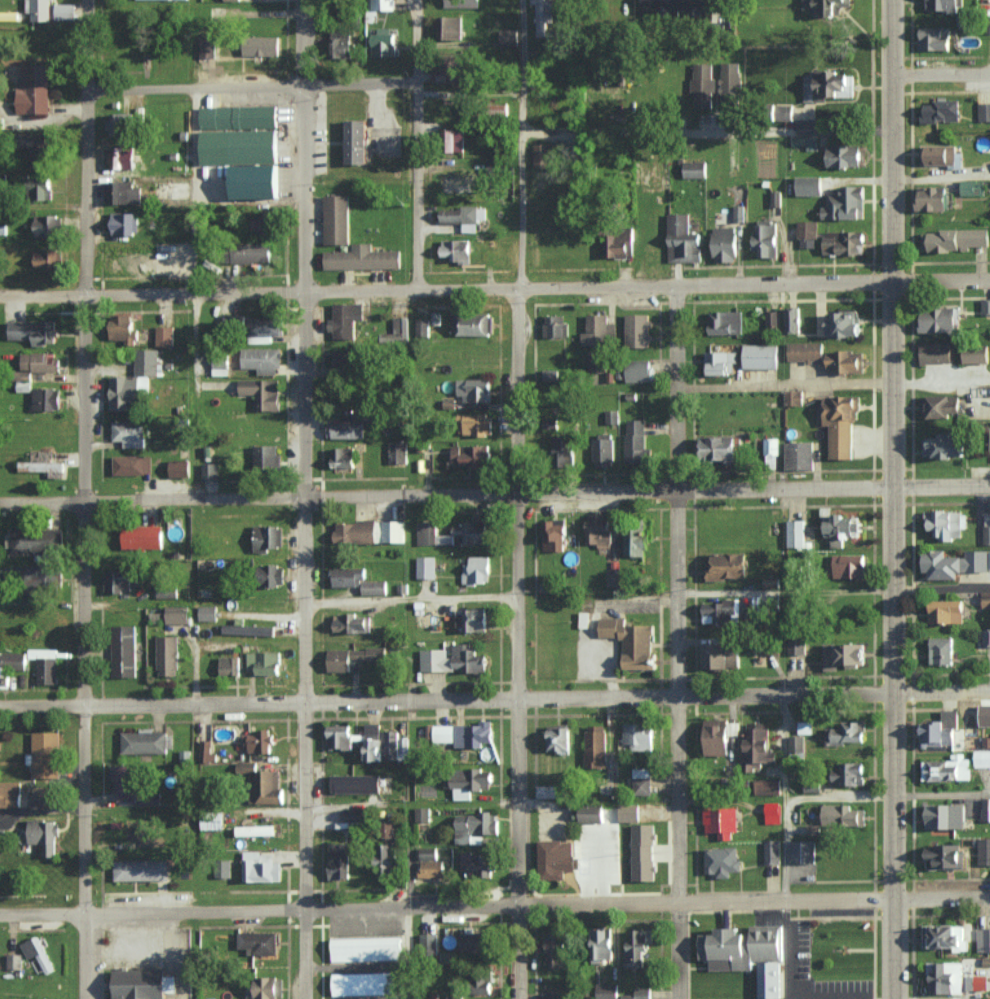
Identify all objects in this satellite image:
building: (225, 0)
building: (461, 3)
building: (382, 4)
building: (715, 4)
building: (944, 5)
building: (826, 6)
building: (38, 9)
building: (65, 11)
building: (544, 18)
building: (450, 27)
building: (509, 36)
building: (934, 38)
building: (383, 42)
building: (342, 43)
building: (261, 45)
building: (207, 47)
building: (444, 72)
road: (941, 72)
building: (729, 84)
building: (829, 84)
building: (703, 85)
road: (252, 87)
building: (34, 89)
building: (942, 111)
building: (984, 111)
building: (238, 116)
building: (118, 124)
road: (707, 130)
building: (36, 140)
building: (356, 140)
building: (453, 140)
building: (805, 141)
road: (416, 144)
building: (254, 146)
building: (941, 154)
building: (542, 155)
building: (844, 155)
building: (121, 157)
building: (695, 169)
water tower: (653, 174)
building: (255, 181)
building: (461, 184)
building: (809, 185)
building: (972, 187)
building: (39, 188)
building: (122, 191)
building: (932, 198)
building: (846, 203)
building: (738, 213)
building: (463, 216)
building: (336, 219)
building: (124, 223)
building: (46, 225)
building: (260, 225)
building: (807, 233)
building: (766, 238)
building: (683, 239)
building: (954, 239)
building: (843, 241)
building: (618, 243)
building: (725, 244)
building: (456, 250)
building: (250, 252)
building: (223, 255)
building: (362, 257)
building: (48, 258)
building: (119, 260)
road: (941, 278)
road: (446, 288)
building: (985, 306)
building: (772, 318)
building: (345, 319)
building: (793, 319)
building: (939, 319)
building: (725, 322)
building: (843, 323)
building: (470, 324)
building: (555, 325)
building: (265, 326)
building: (123, 327)
building: (398, 327)
building: (421, 327)
building: (598, 330)
building: (637, 330)
building: (32, 331)
building: (164, 335)
building: (805, 351)
building: (934, 352)
building: (975, 353)
building: (760, 355)
building: (343, 358)
building: (262, 360)
building: (38, 361)
building: (844, 361)
building: (720, 362)
building: (597, 363)
building: (220, 366)
building: (638, 370)
building: (133, 380)
building: (475, 390)
building: (262, 393)
building: (793, 397)
building: (46, 398)
building: (941, 406)
building: (612, 416)
building: (551, 423)
building: (841, 423)
building: (478, 424)
building: (345, 429)
building: (129, 432)
building: (635, 441)
building: (945, 445)
building: (718, 447)
building: (564, 449)
building: (602, 450)
building: (771, 450)
building: (397, 452)
building: (471, 455)
building: (799, 455)
building: (265, 456)
building: (343, 456)
building: (132, 464)
building: (43, 467)
building: (179, 468)
building: (210, 471)
road: (942, 486)
road: (447, 495)
road: (82, 499)
road: (303, 499)
road: (516, 499)
road: (894, 499)
building: (841, 528)
building: (986, 528)
building: (599, 529)
building: (393, 530)
building: (358, 532)
building: (470, 532)
building: (425, 533)
building: (796, 533)
building: (554, 535)
building: (142, 536)
building: (267, 537)
building: (34, 540)
building: (635, 542)
building: (989, 558)
building: (953, 563)
building: (849, 565)
building: (426, 566)
building: (727, 566)
building: (476, 570)
building: (35, 573)
building: (271, 575)
building: (117, 580)
building: (357, 580)
building: (985, 599)
building: (719, 611)
building: (945, 611)
building: (208, 613)
building: (177, 614)
building: (584, 619)
building: (471, 620)
building: (350, 623)
building: (247, 629)
building: (986, 637)
building: (630, 641)
road: (677, 641)
building: (796, 644)
building: (123, 650)
building: (941, 650)
building: (719, 654)
building: (168, 655)
building: (843, 655)
building: (352, 657)
building: (453, 659)
building: (12, 660)
building: (263, 662)
building: (45, 665)
building: (229, 665)
road: (942, 690)
road: (447, 699)
building: (805, 727)
building: (941, 729)
building: (373, 730)
building: (847, 732)
building: (465, 734)
building: (339, 736)
building: (639, 736)
building: (720, 736)
building: (558, 738)
building: (143, 742)
building: (259, 742)
building: (390, 742)
building: (797, 743)
building: (757, 746)
building: (373, 749)
building: (206, 751)
building: (45, 754)
building: (602, 758)
building: (982, 758)
building: (947, 769)
building: (848, 774)
building: (125, 781)
building: (641, 781)
building: (470, 782)
building: (264, 783)
building: (355, 783)
building: (767, 786)
building: (811, 786)
building: (549, 791)
road: (941, 793)
building: (10, 794)
building: (150, 799)
road: (795, 801)
building: (986, 809)
building: (629, 812)
building: (772, 812)
building: (422, 814)
building: (591, 814)
building: (843, 814)
building: (353, 815)
building: (945, 816)
building: (211, 821)
building: (721, 822)
building: (475, 825)
building: (386, 829)
building: (255, 830)
building: (43, 835)
building: (2, 839)
building: (772, 851)
building: (802, 851)
building: (984, 851)
building: (643, 852)
building: (945, 856)
building: (556, 858)
building: (383, 859)
building: (338, 861)
building: (722, 861)
building: (430, 863)
building: (477, 864)
building: (260, 868)
building: (141, 870)
road: (941, 897)
road: (446, 905)
building: (942, 936)
building: (983, 940)
building: (428, 941)
building: (472, 941)
building: (258, 942)
building: (600, 945)
building: (637, 947)
building: (366, 949)
building: (554, 949)
parking lot: (803, 950)
building: (37, 953)
building: (749, 954)
building: (14, 961)
building: (945, 977)
building: (976, 982)
building: (364, 983)
building: (482, 983)
building: (142, 984)
building: (266, 987)
building: (606, 991)
building: (639, 993)
building: (455, 997)

